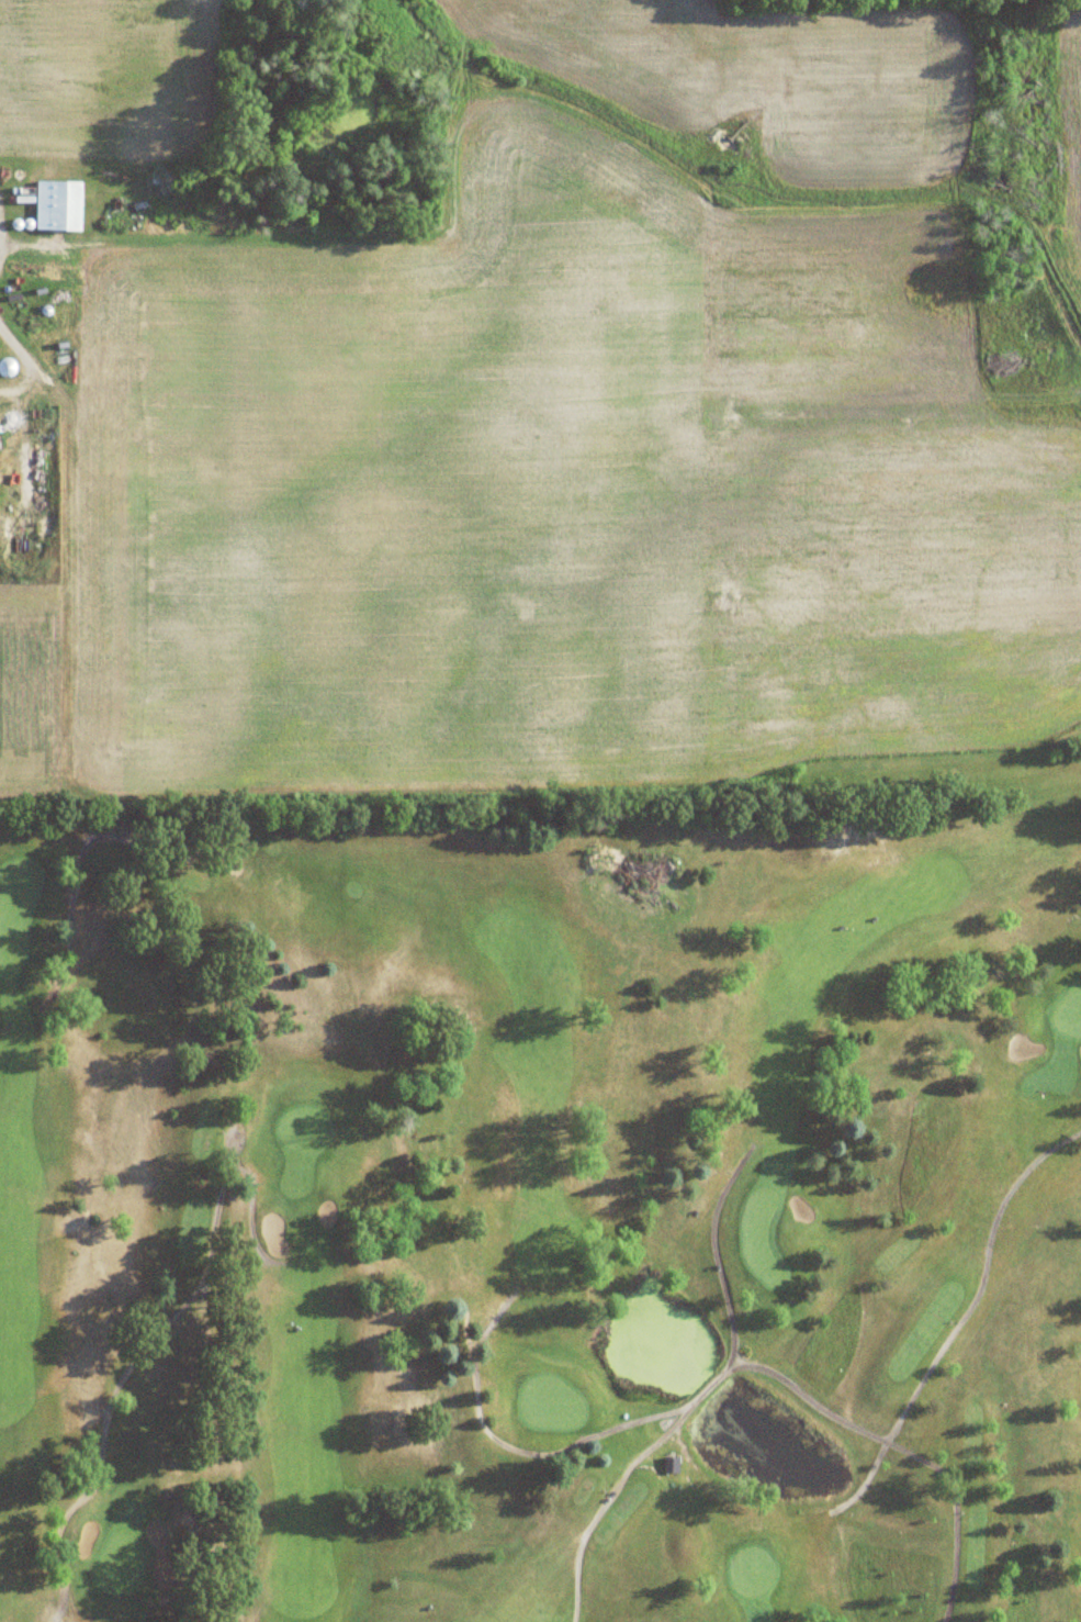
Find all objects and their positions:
building: (59, 204)
road: (83, 847)
road: (233, 1127)
park: (545, 1205)
road: (959, 1320)
road: (155, 1333)
road: (735, 1361)
road: (701, 1394)
road: (513, 1448)
road: (901, 1450)
building: (669, 1464)

